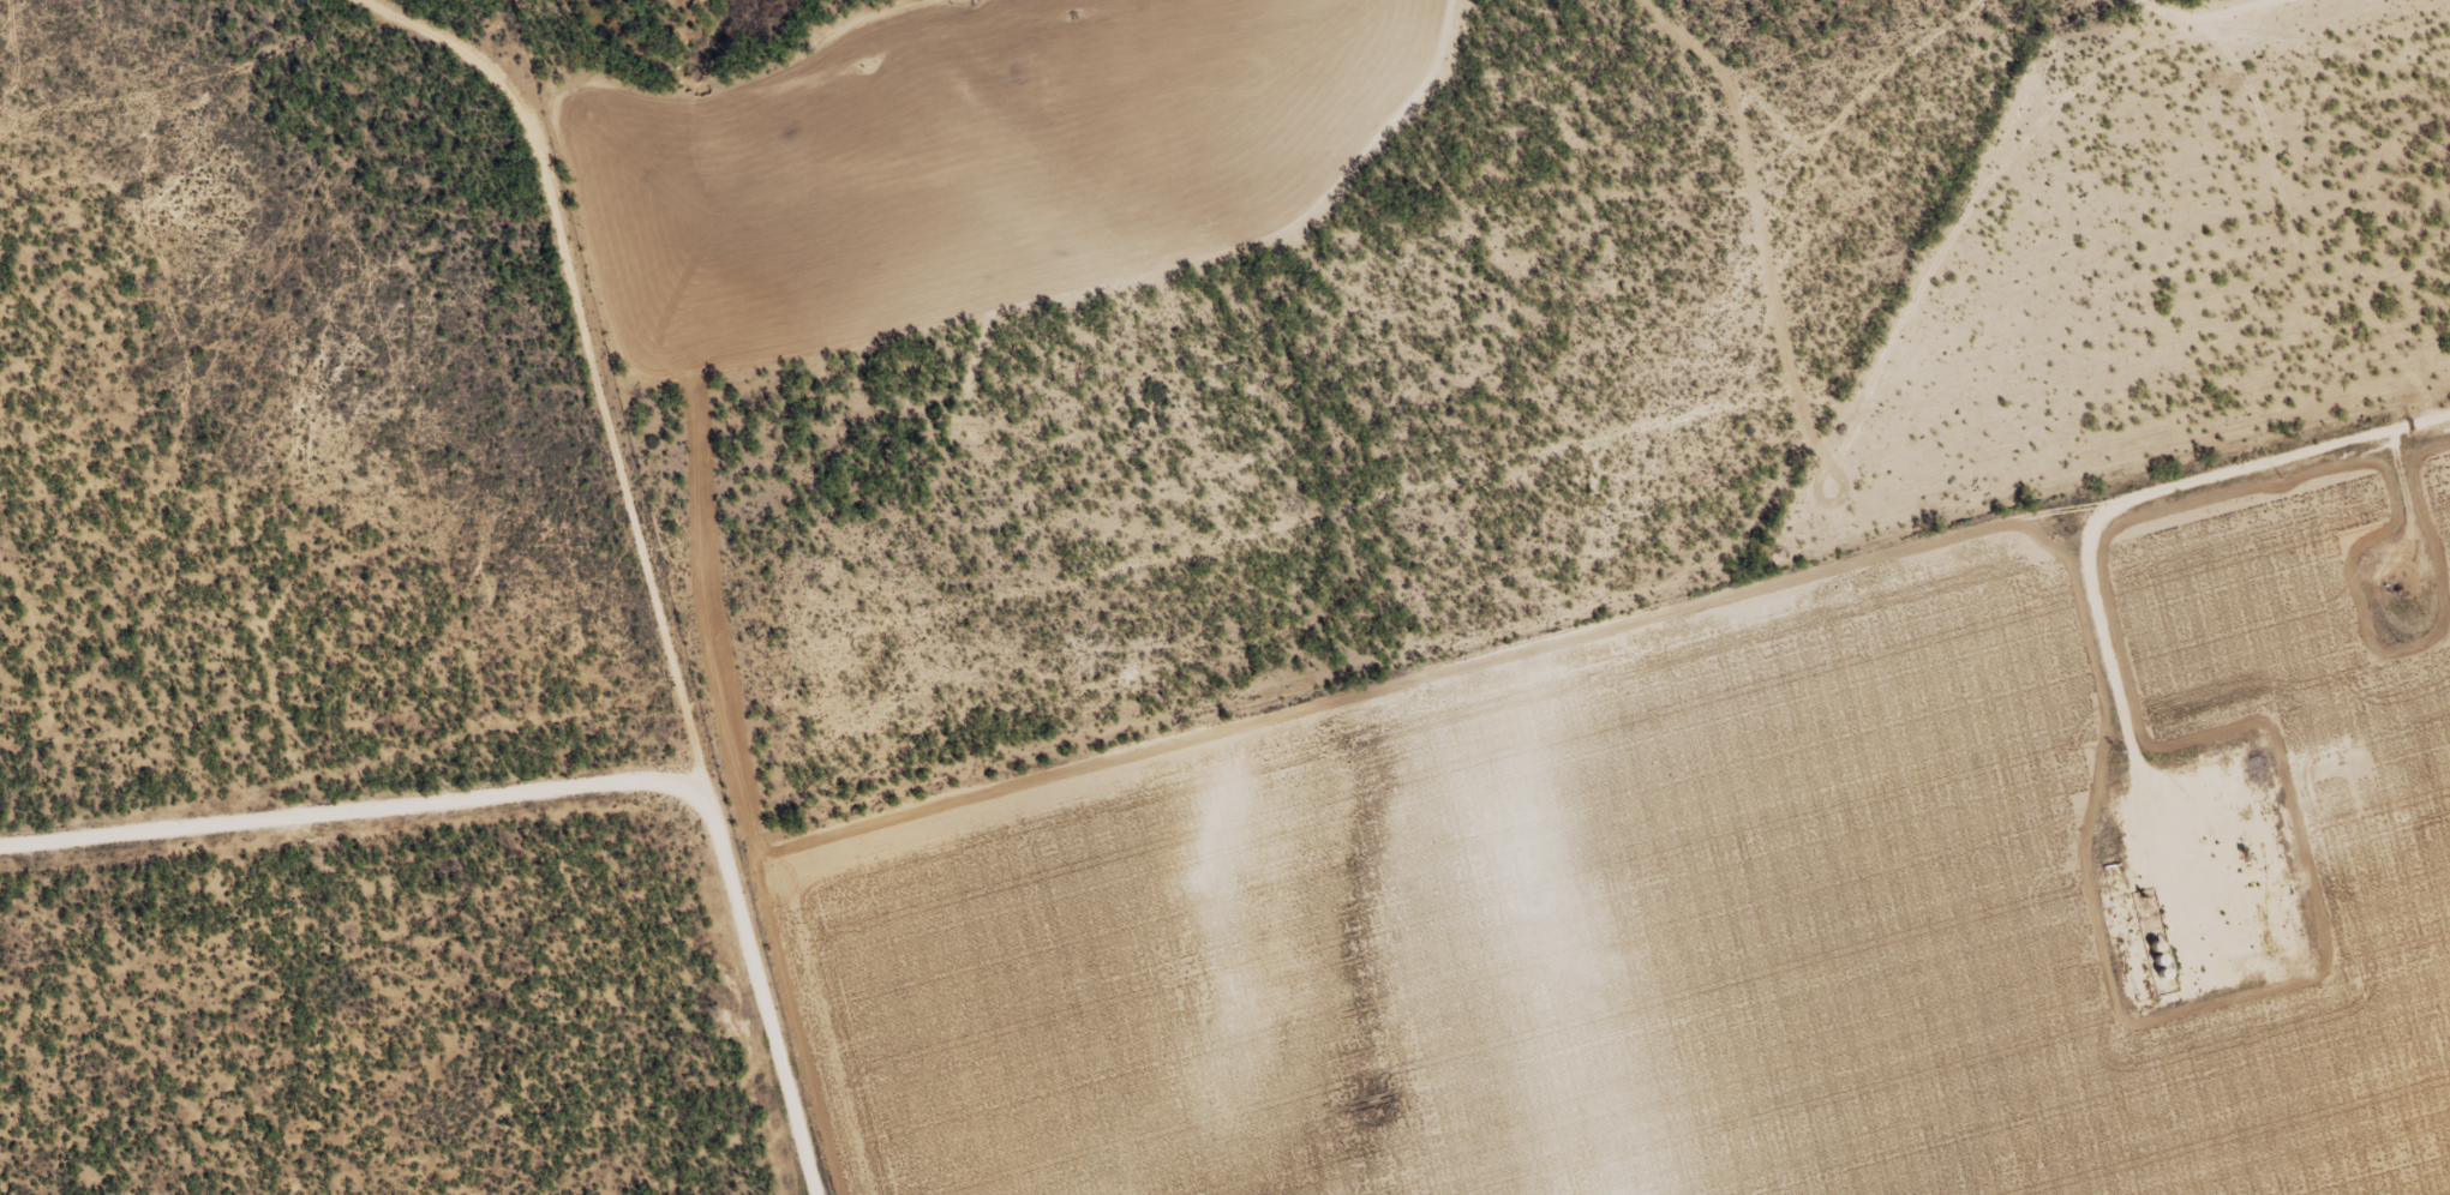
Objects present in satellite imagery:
road: (2128, 496)

